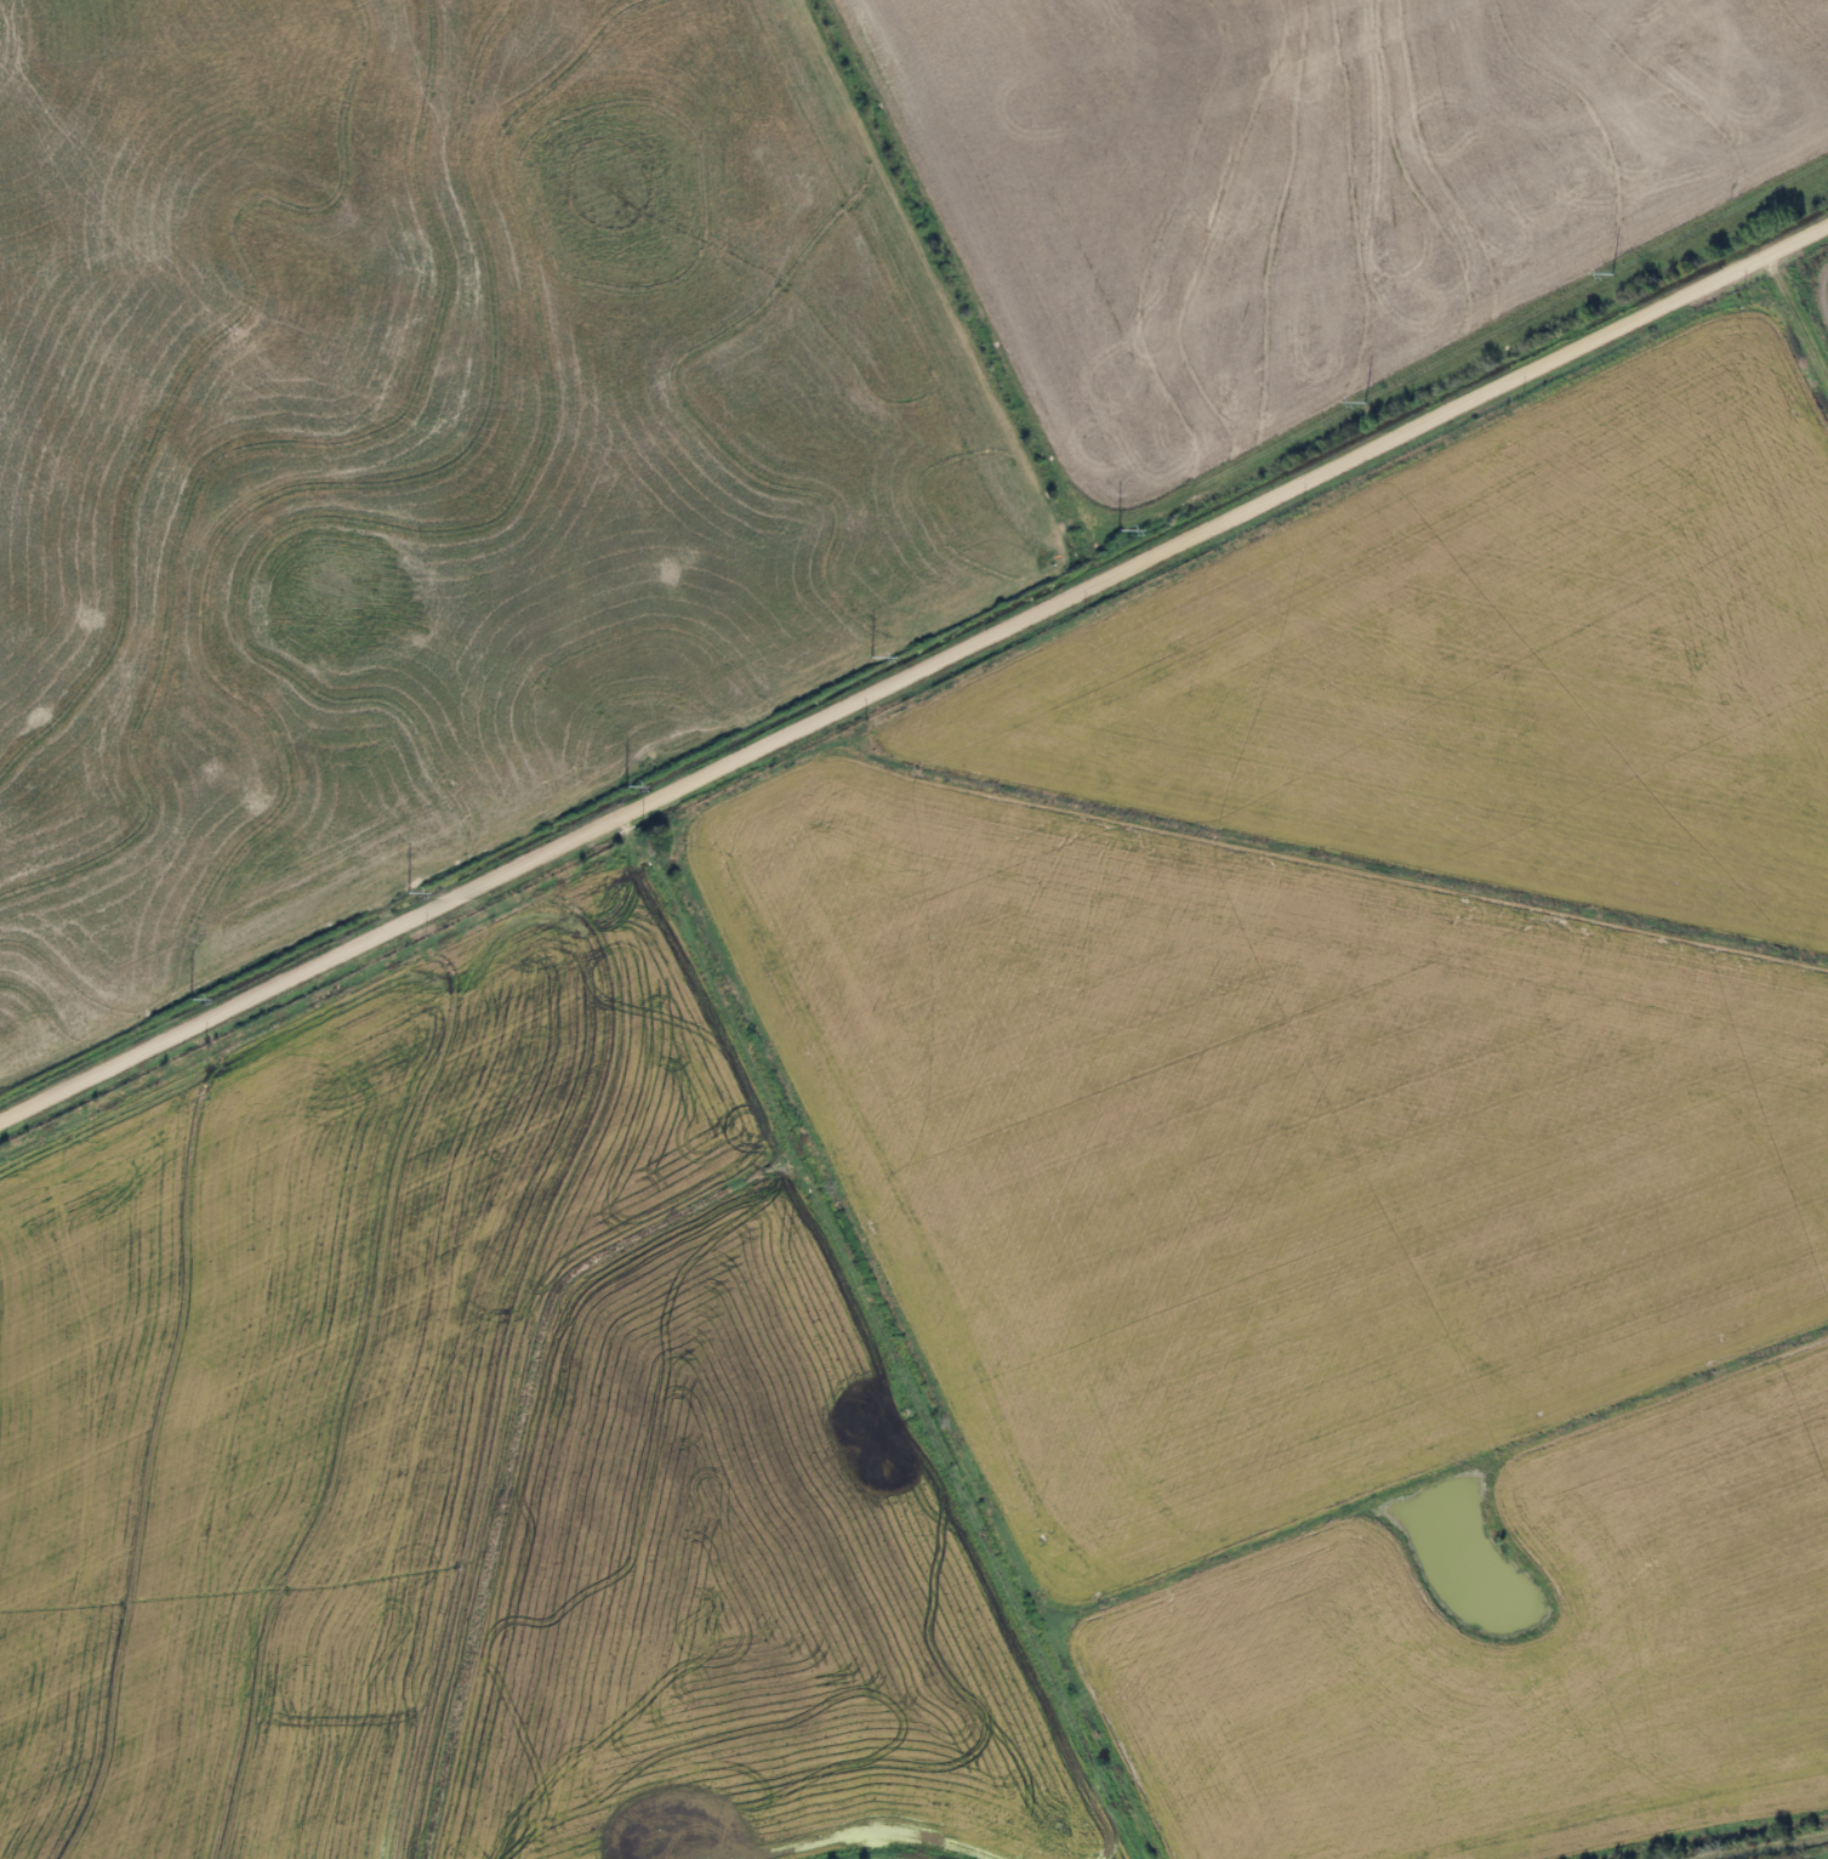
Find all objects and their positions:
road: (916, 673)

